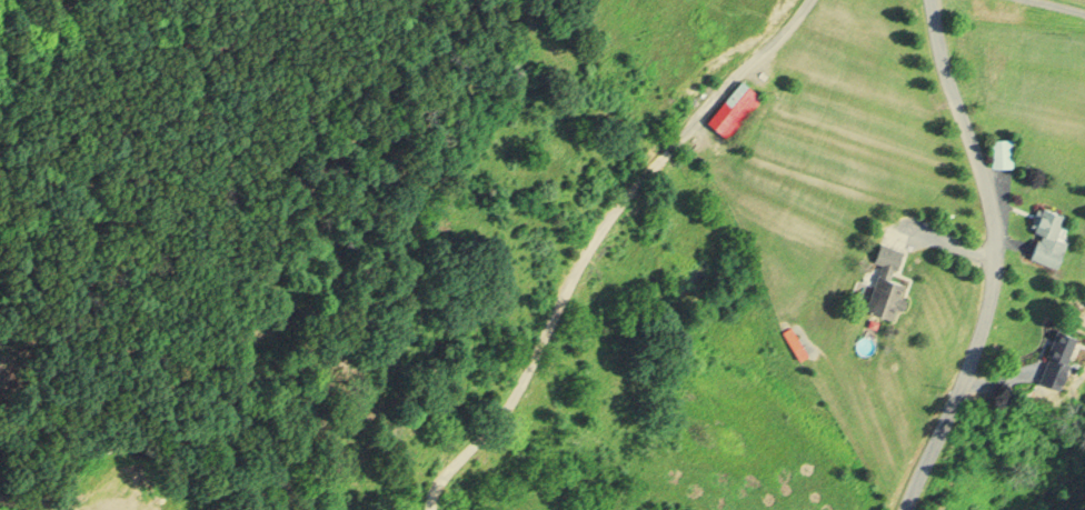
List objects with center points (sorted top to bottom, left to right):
building: (735, 108)
building: (1002, 151)
building: (1048, 237)
road: (982, 256)
building: (887, 281)
building: (1058, 357)

